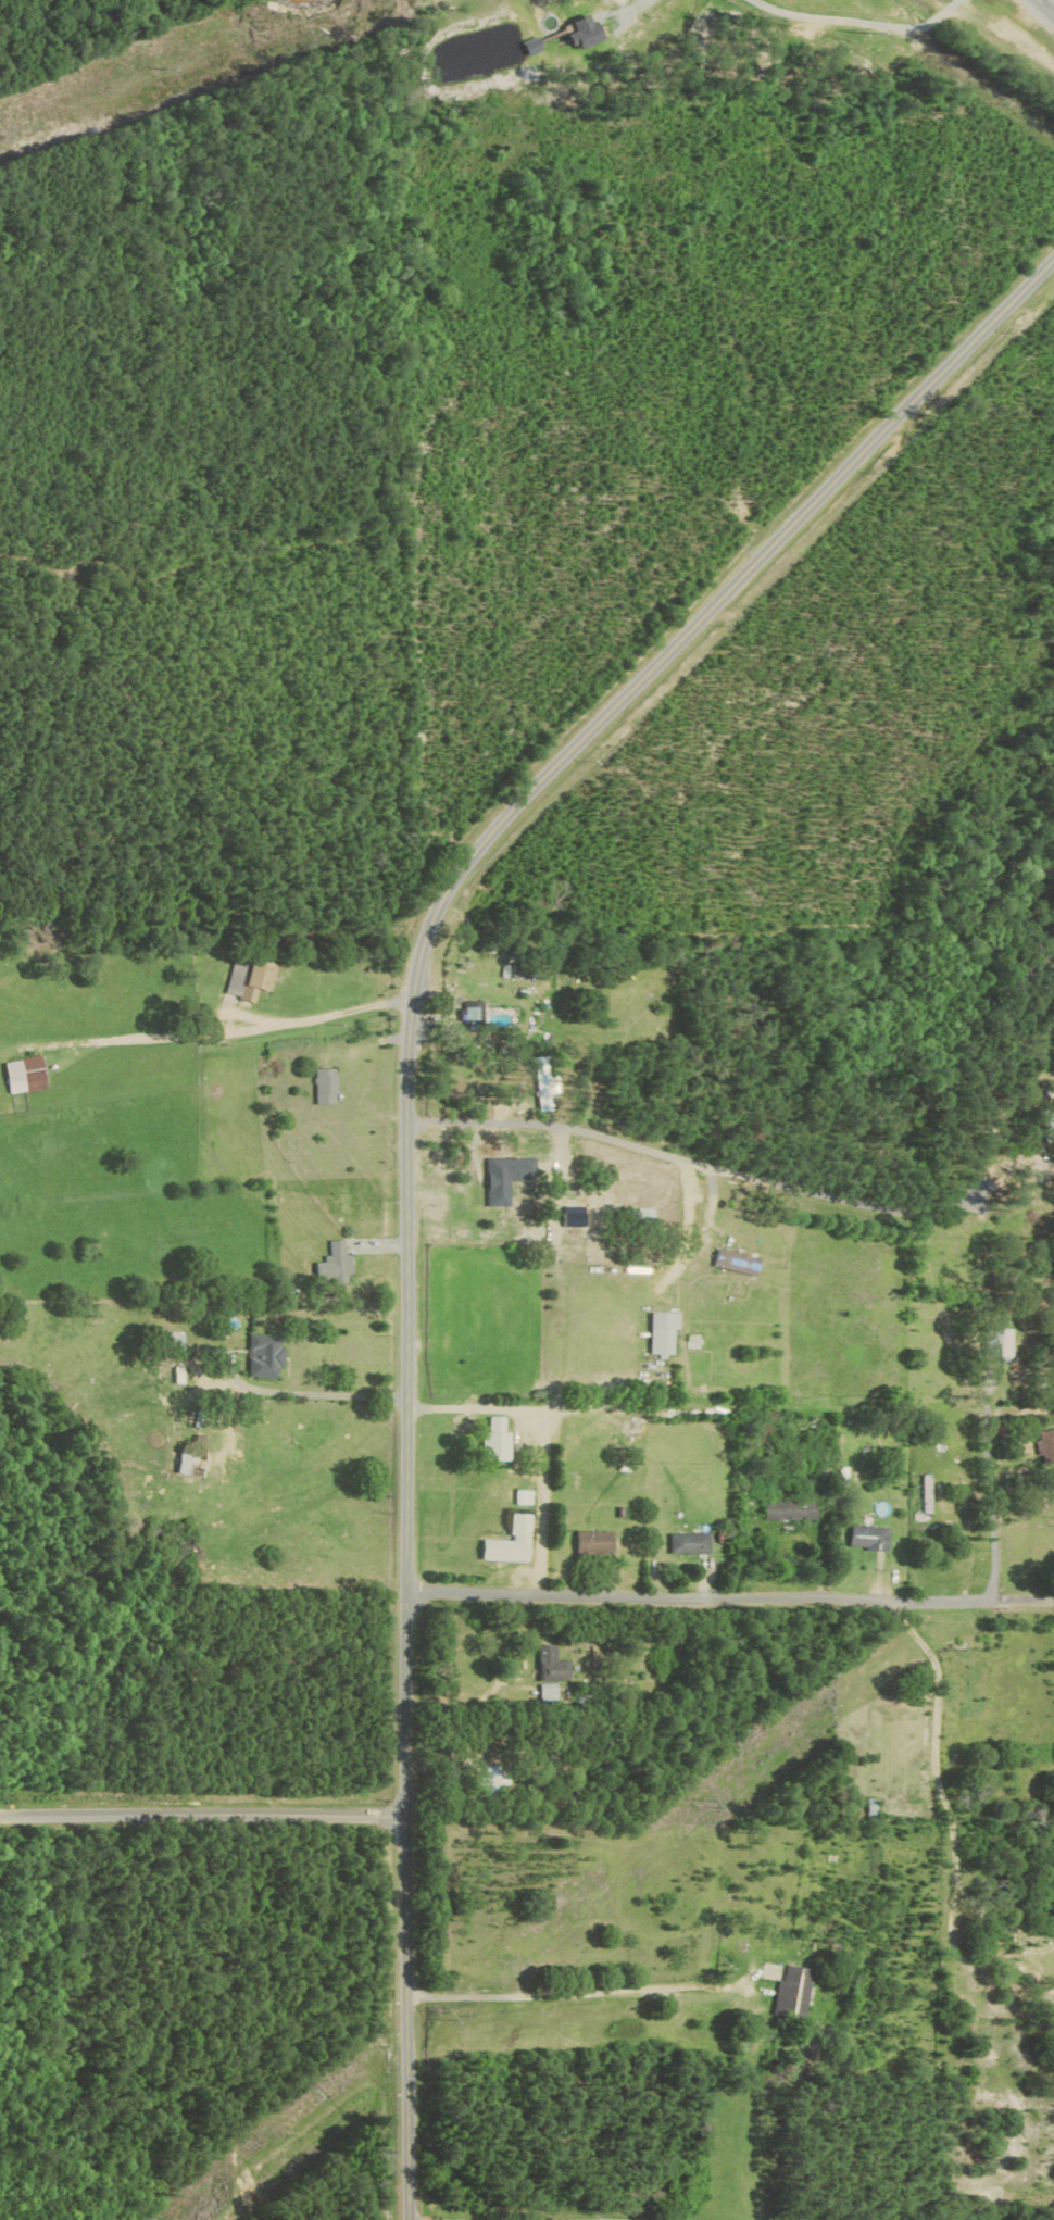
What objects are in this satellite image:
road: (1040, 2)
road: (640, 3)
road: (1043, 9)
road: (861, 23)
building: (586, 34)
road: (851, 748)
building: (251, 977)
building: (472, 1015)
road: (237, 1028)
building: (25, 1075)
building: (327, 1086)
road: (413, 1115)
building: (504, 1178)
road: (716, 1189)
building: (736, 1262)
building: (336, 1265)
building: (661, 1332)
building: (174, 1342)
building: (1002, 1343)
building: (263, 1355)
road: (309, 1390)
road: (551, 1440)
building: (498, 1441)
building: (1046, 1444)
building: (188, 1463)
building: (527, 1497)
building: (791, 1510)
building: (870, 1538)
building: (597, 1542)
building: (513, 1543)
building: (692, 1543)
road: (807, 1598)
building: (553, 1665)
building: (493, 1778)
road: (943, 1792)
road: (206, 1814)
building: (794, 1992)
road: (563, 2005)
road: (664, 2219)

